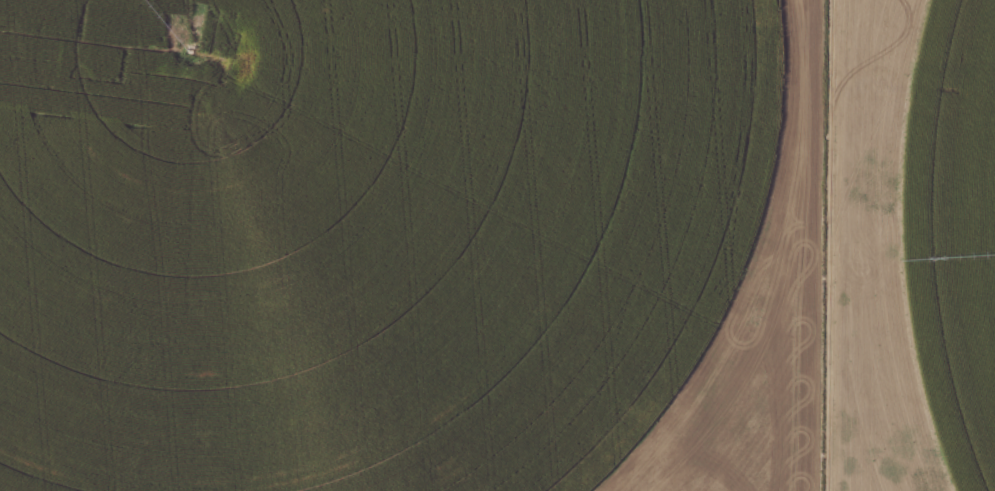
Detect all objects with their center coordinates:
road: (836, 245)

